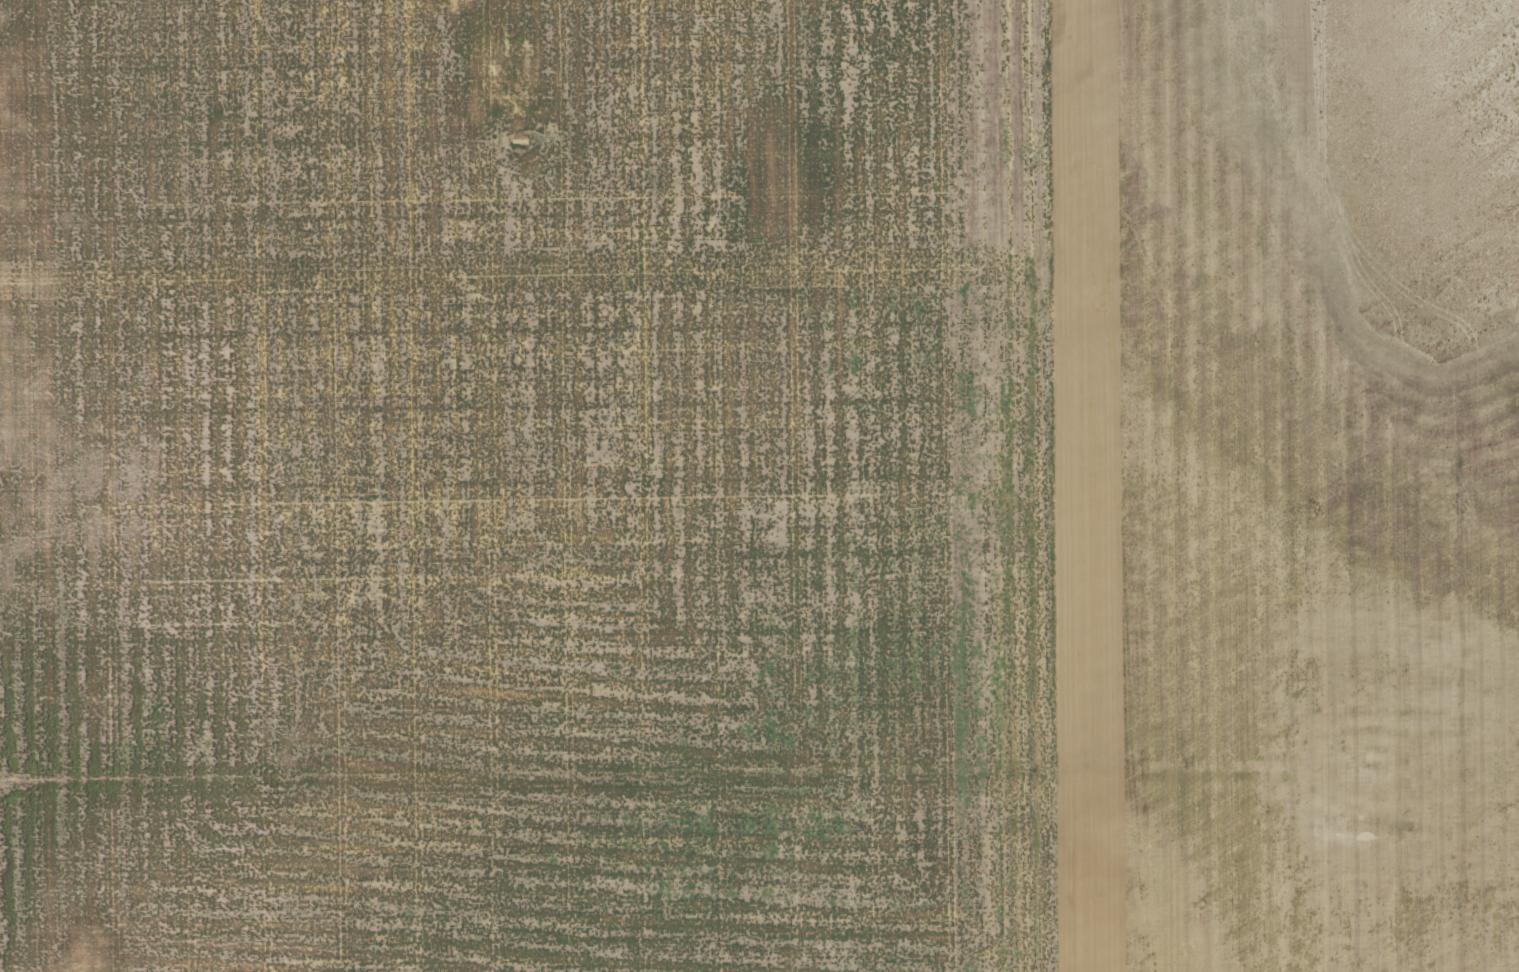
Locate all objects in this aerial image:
road: (240, 149)

